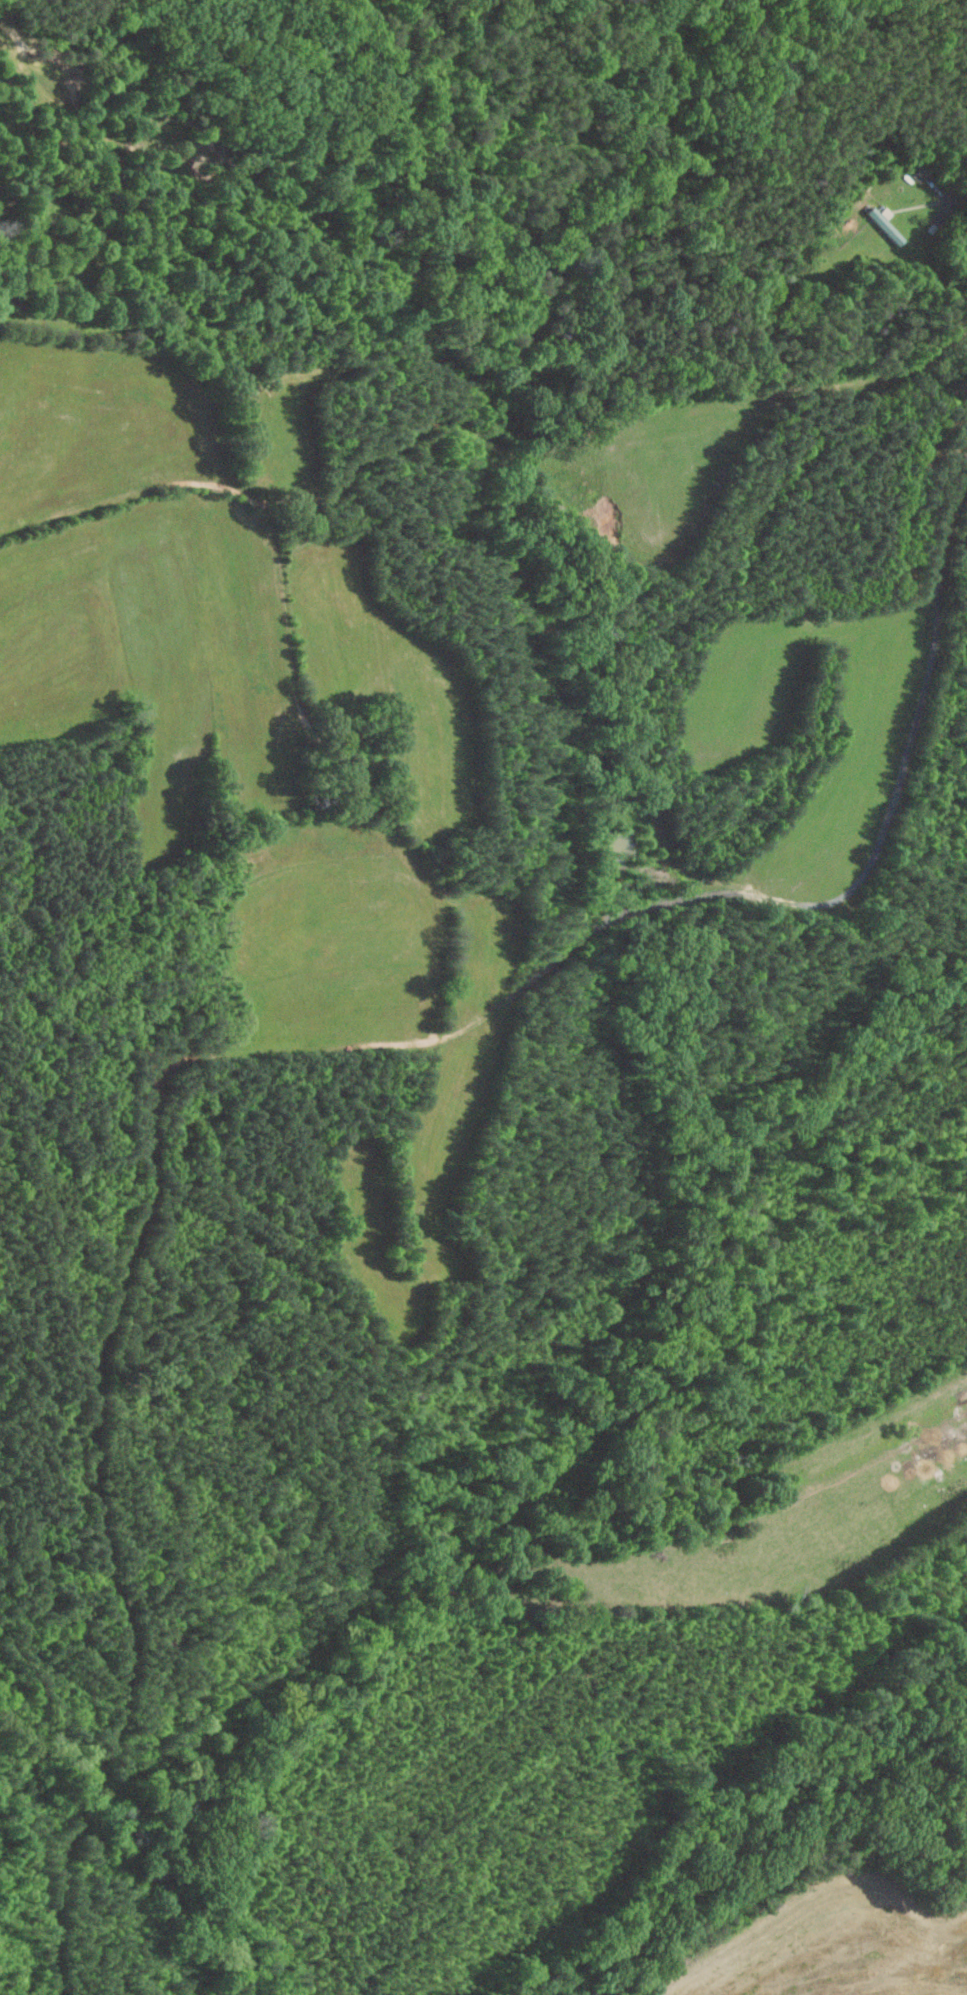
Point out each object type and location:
road: (964, 195)
building: (885, 222)

